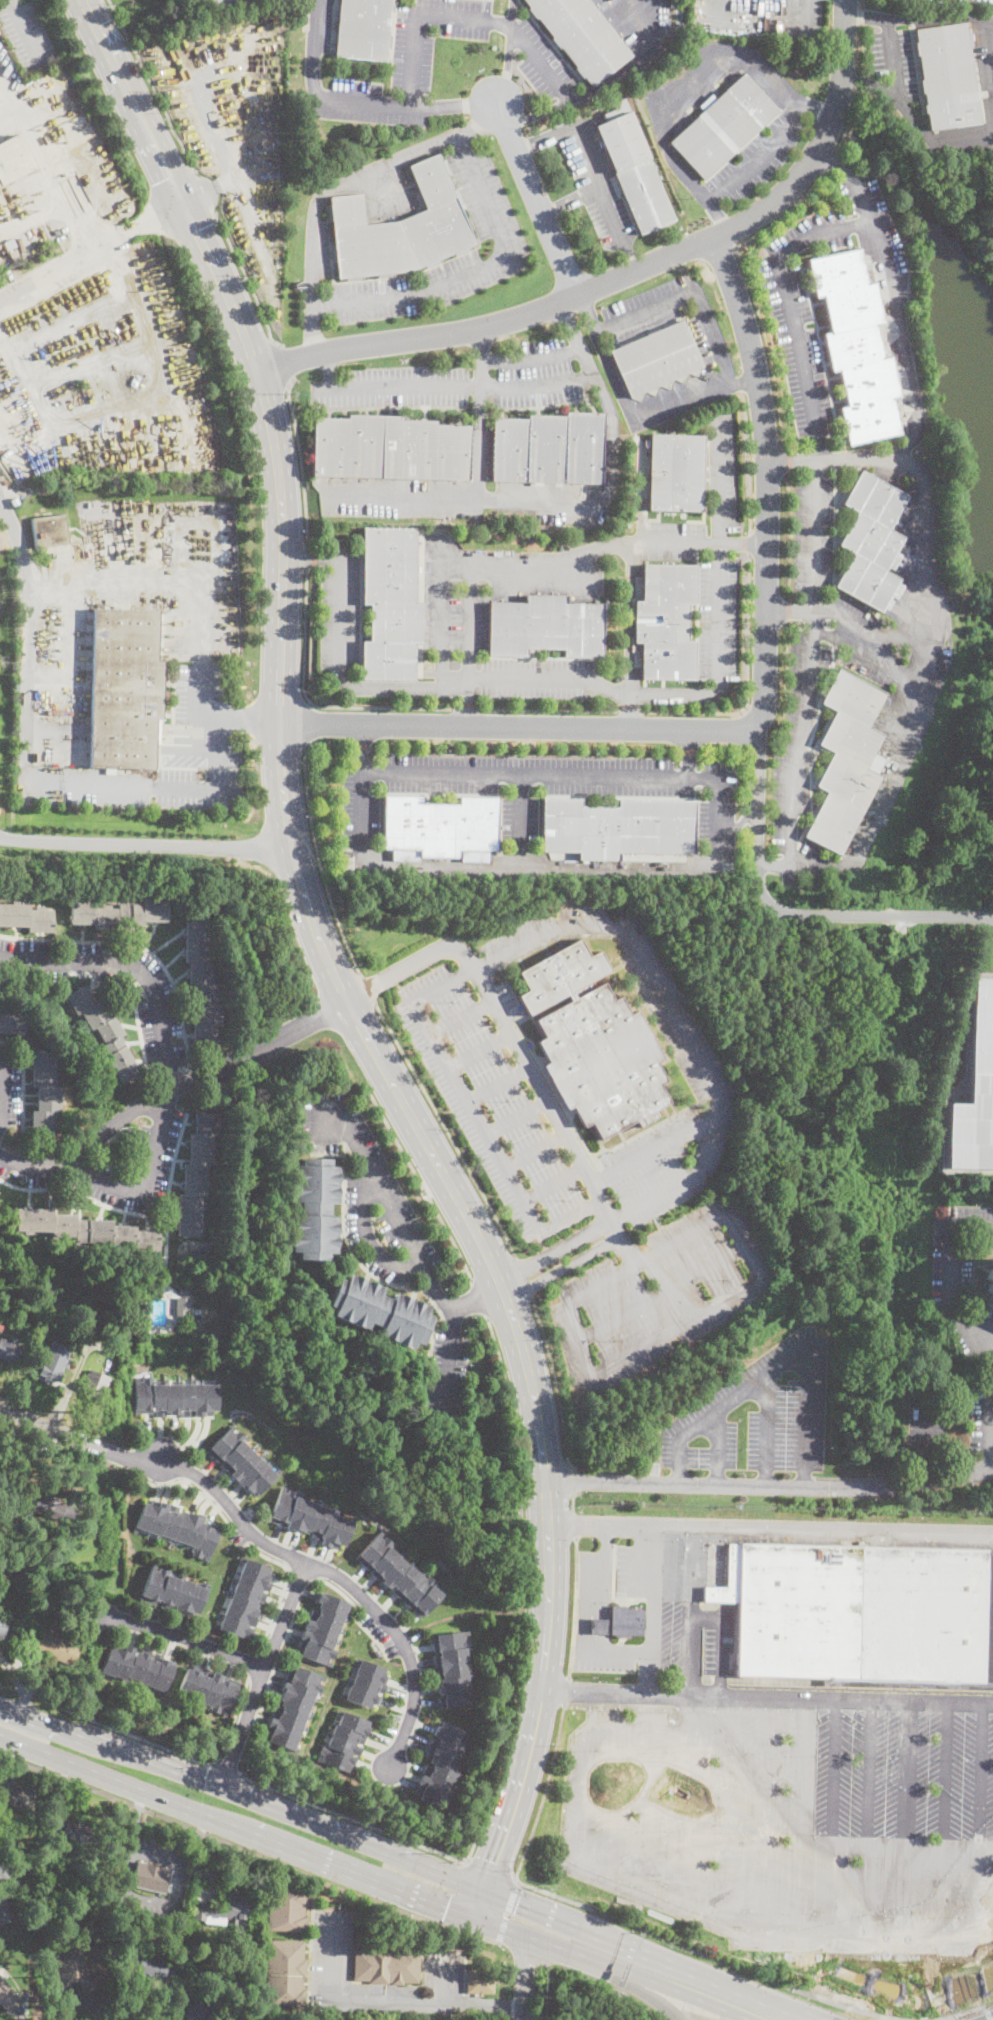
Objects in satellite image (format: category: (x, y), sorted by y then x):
building: (215, 3)
road: (513, 11)
road: (420, 13)
road: (866, 16)
road: (963, 17)
building: (363, 29)
road: (25, 30)
building: (581, 36)
parking lot: (431, 37)
road: (313, 49)
parking lot: (541, 61)
road: (507, 63)
building: (947, 76)
road: (603, 83)
road: (870, 84)
road: (153, 85)
road: (683, 85)
parking lot: (368, 103)
road: (452, 105)
road: (814, 105)
road: (908, 114)
building: (723, 126)
road: (844, 136)
road: (543, 138)
road: (761, 158)
building: (13, 159)
road: (833, 160)
road: (835, 161)
building: (633, 169)
road: (359, 175)
road: (171, 181)
parking lot: (595, 181)
road: (594, 186)
road: (204, 190)
road: (538, 198)
road: (569, 199)
traffic signals: (183, 204)
road: (155, 213)
road: (717, 216)
road: (189, 222)
building: (400, 227)
parking lot: (874, 230)
road: (114, 236)
parking lot: (507, 236)
building: (9, 245)
building: (14, 255)
road: (626, 260)
road: (474, 269)
building: (15, 272)
road: (629, 274)
road: (245, 278)
road: (691, 288)
road: (751, 290)
road: (588, 312)
parking lot: (669, 315)
parking lot: (801, 316)
road: (314, 330)
road: (903, 342)
building: (856, 344)
road: (531, 357)
building: (657, 360)
road: (286, 362)
road: (328, 368)
parking lot: (535, 374)
road: (744, 381)
parking lot: (393, 386)
road: (461, 386)
road: (479, 413)
road: (636, 422)
building: (390, 449)
building: (548, 449)
road: (301, 457)
road: (749, 460)
parking lot: (722, 470)
building: (676, 473)
road: (816, 480)
building: (637, 483)
building: (14, 500)
road: (572, 502)
road: (927, 502)
building: (634, 517)
building: (629, 526)
building: (49, 531)
road: (743, 540)
road: (750, 542)
building: (872, 542)
road: (593, 549)
road: (308, 553)
road: (311, 555)
parking lot: (702, 587)
building: (391, 604)
road: (790, 612)
road: (719, 614)
road: (467, 616)
road: (629, 616)
road: (339, 619)
building: (666, 621)
parking lot: (455, 623)
road: (29, 627)
building: (546, 627)
parking lot: (352, 628)
road: (872, 630)
road: (305, 634)
road: (865, 658)
road: (444, 669)
road: (455, 673)
road: (528, 676)
parking lot: (534, 677)
road: (748, 683)
building: (125, 688)
road: (466, 700)
road: (380, 706)
road: (466, 707)
road: (549, 709)
road: (629, 710)
road: (630, 710)
road: (757, 715)
road: (243, 719)
road: (305, 725)
building: (157, 731)
road: (361, 746)
road: (687, 752)
road: (222, 754)
building: (846, 761)
road: (363, 770)
road: (881, 812)
parking lot: (519, 817)
road: (521, 820)
road: (739, 821)
building: (440, 825)
building: (618, 828)
road: (3, 837)
road: (148, 845)
road: (291, 849)
road: (320, 862)
road: (773, 869)
road: (778, 909)
building: (119, 913)
road: (983, 916)
building: (26, 917)
road: (135, 964)
building: (203, 983)
road: (367, 987)
parking lot: (156, 1007)
building: (11, 1023)
building: (105, 1033)
building: (593, 1042)
building: (971, 1085)
parking lot: (9, 1086)
road: (2, 1091)
building: (44, 1092)
road: (171, 1092)
road: (445, 1127)
parking lot: (107, 1166)
building: (197, 1173)
road: (420, 1180)
road: (149, 1182)
parking lot: (370, 1191)
building: (314, 1208)
road: (972, 1228)
building: (87, 1229)
road: (366, 1234)
road: (404, 1235)
road: (451, 1274)
road: (523, 1275)
building: (990, 1280)
building: (184, 1291)
road: (480, 1299)
building: (183, 1306)
building: (379, 1310)
road: (974, 1330)
road: (987, 1338)
building: (9, 1351)
building: (55, 1362)
road: (446, 1363)
road: (780, 1365)
parking lot: (446, 1372)
road: (992, 1373)
road: (555, 1381)
building: (94, 1384)
building: (176, 1396)
parking lot: (756, 1420)
road: (765, 1429)
parking lot: (927, 1430)
road: (928, 1436)
road: (718, 1445)
building: (241, 1460)
building: (652, 1468)
road: (572, 1478)
road: (769, 1484)
road: (573, 1500)
building: (53, 1509)
building: (310, 1517)
road: (574, 1523)
building: (177, 1525)
road: (770, 1528)
road: (267, 1542)
road: (604, 1561)
building: (399, 1574)
road: (283, 1587)
building: (173, 1590)
building: (244, 1597)
road: (574, 1606)
road: (651, 1608)
building: (858, 1610)
building: (4, 1613)
road: (705, 1616)
road: (583, 1618)
building: (989, 1621)
building: (620, 1622)
building: (2, 1625)
road: (602, 1625)
building: (321, 1629)
road: (188, 1639)
building: (59, 1648)
road: (615, 1652)
building: (373, 1654)
road: (251, 1663)
building: (139, 1665)
building: (452, 1667)
road: (262, 1672)
building: (366, 1683)
building: (208, 1688)
road: (566, 1690)
road: (766, 1695)
building: (292, 1704)
road: (510, 1711)
road: (232, 1721)
road: (148, 1740)
building: (345, 1740)
building: (441, 1763)
road: (226, 1769)
road: (517, 1788)
road: (542, 1792)
road: (242, 1793)
building: (20, 1799)
road: (727, 1807)
road: (763, 1813)
road: (797, 1813)
road: (833, 1814)
road: (868, 1814)
road: (907, 1815)
road: (945, 1815)
road: (981, 1816)
parking lot: (789, 1817)
building: (28, 1820)
building: (73, 1830)
road: (264, 1837)
road: (247, 1850)
traffic signals: (493, 1862)
road: (490, 1869)
building: (4, 1871)
building: (150, 1877)
road: (454, 1893)
road: (479, 1903)
traffic signals: (517, 1903)
road: (693, 1907)
building: (4, 1908)
building: (288, 1908)
traffic signals: (447, 1908)
building: (225, 1910)
road: (506, 1910)
building: (239, 1931)
road: (647, 1953)
building: (148, 1966)
building: (387, 1966)
parking lot: (442, 1968)
building: (73, 1970)
building: (286, 1975)
road: (640, 1977)
road: (529, 1978)
building: (480, 1981)
building: (7, 1998)
road: (369, 1998)
road: (487, 2006)
road: (877, 2006)
building: (197, 2011)
road: (750, 2019)
road: (751, 2019)

